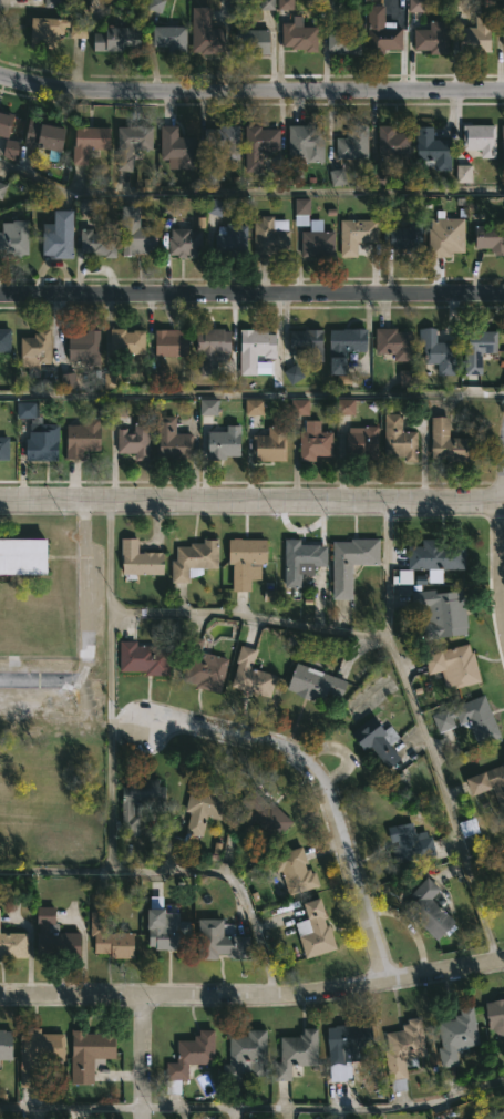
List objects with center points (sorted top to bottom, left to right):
building: (58, 2)
building: (266, 4)
building: (155, 6)
building: (414, 6)
building: (456, 6)
building: (48, 31)
building: (383, 31)
building: (194, 34)
building: (300, 34)
building: (474, 34)
building: (434, 37)
building: (502, 37)
building: (121, 39)
building: (346, 41)
building: (256, 42)
road: (251, 86)
building: (7, 123)
building: (48, 136)
building: (224, 137)
building: (477, 137)
building: (93, 141)
building: (308, 142)
building: (394, 142)
building: (354, 143)
building: (502, 143)
building: (134, 144)
building: (260, 145)
building: (179, 148)
building: (10, 150)
building: (433, 150)
building: (463, 173)
building: (337, 177)
building: (2, 188)
building: (85, 205)
building: (171, 206)
building: (300, 212)
building: (138, 233)
building: (358, 235)
building: (61, 236)
building: (271, 236)
building: (405, 236)
building: (445, 236)
building: (491, 237)
building: (233, 238)
building: (14, 239)
building: (318, 240)
building: (187, 243)
building: (99, 244)
road: (251, 295)
building: (6, 340)
building: (128, 341)
building: (173, 343)
building: (308, 343)
building: (395, 343)
building: (86, 347)
building: (347, 347)
building: (38, 348)
building: (477, 348)
building: (215, 349)
building: (257, 349)
building: (440, 351)
building: (292, 374)
building: (404, 379)
building: (69, 380)
building: (111, 381)
road: (251, 394)
building: (253, 407)
building: (298, 407)
building: (344, 407)
building: (207, 408)
building: (132, 431)
building: (41, 434)
building: (84, 438)
building: (402, 438)
building: (174, 440)
building: (317, 441)
building: (226, 443)
building: (364, 443)
building: (453, 443)
building: (272, 444)
building: (8, 449)
road: (503, 493)
road: (251, 502)
building: (23, 556)
building: (438, 556)
building: (141, 559)
building: (247, 559)
building: (195, 561)
building: (305, 561)
road: (501, 562)
building: (353, 563)
road: (390, 568)
road: (80, 594)
building: (444, 609)
road: (249, 614)
building: (145, 659)
building: (456, 666)
building: (207, 670)
building: (253, 676)
road: (32, 680)
road: (106, 685)
building: (316, 685)
building: (472, 719)
building: (380, 743)
building: (487, 782)
road: (329, 791)
road: (450, 798)
building: (142, 800)
building: (204, 809)
building: (265, 813)
building: (410, 844)
road: (184, 866)
building: (297, 872)
building: (431, 911)
building: (167, 927)
building: (317, 932)
building: (55, 934)
building: (112, 938)
building: (219, 941)
building: (13, 944)
road: (253, 998)
building: (496, 1014)
building: (454, 1035)
building: (350, 1040)
building: (7, 1044)
building: (405, 1050)
building: (299, 1051)
building: (91, 1053)
building: (39, 1054)
building: (247, 1054)
road: (141, 1058)
building: (191, 1058)
road: (254, 1106)
building: (498, 1115)

